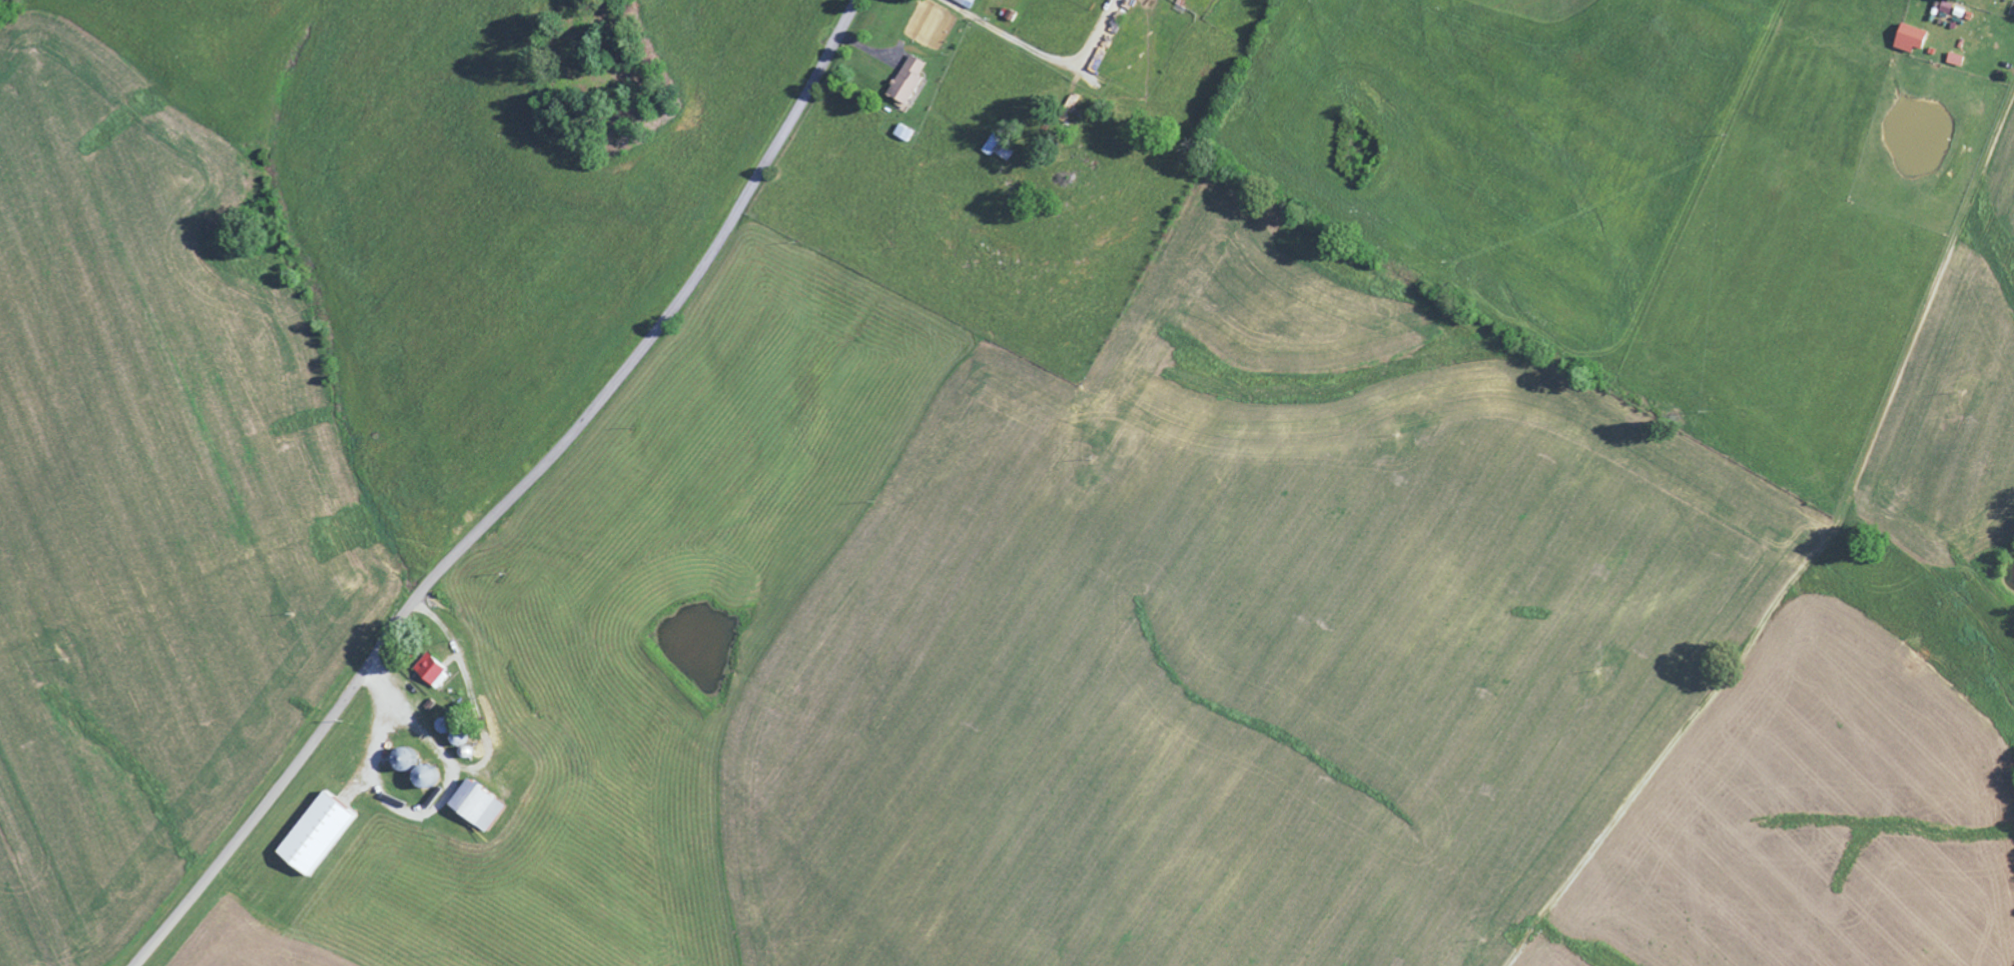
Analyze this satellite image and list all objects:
building: (963, 4)
building: (1941, 11)
building: (1905, 41)
building: (907, 84)
building: (901, 136)
building: (991, 148)
road: (514, 496)
building: (435, 674)
building: (480, 807)
building: (319, 836)

